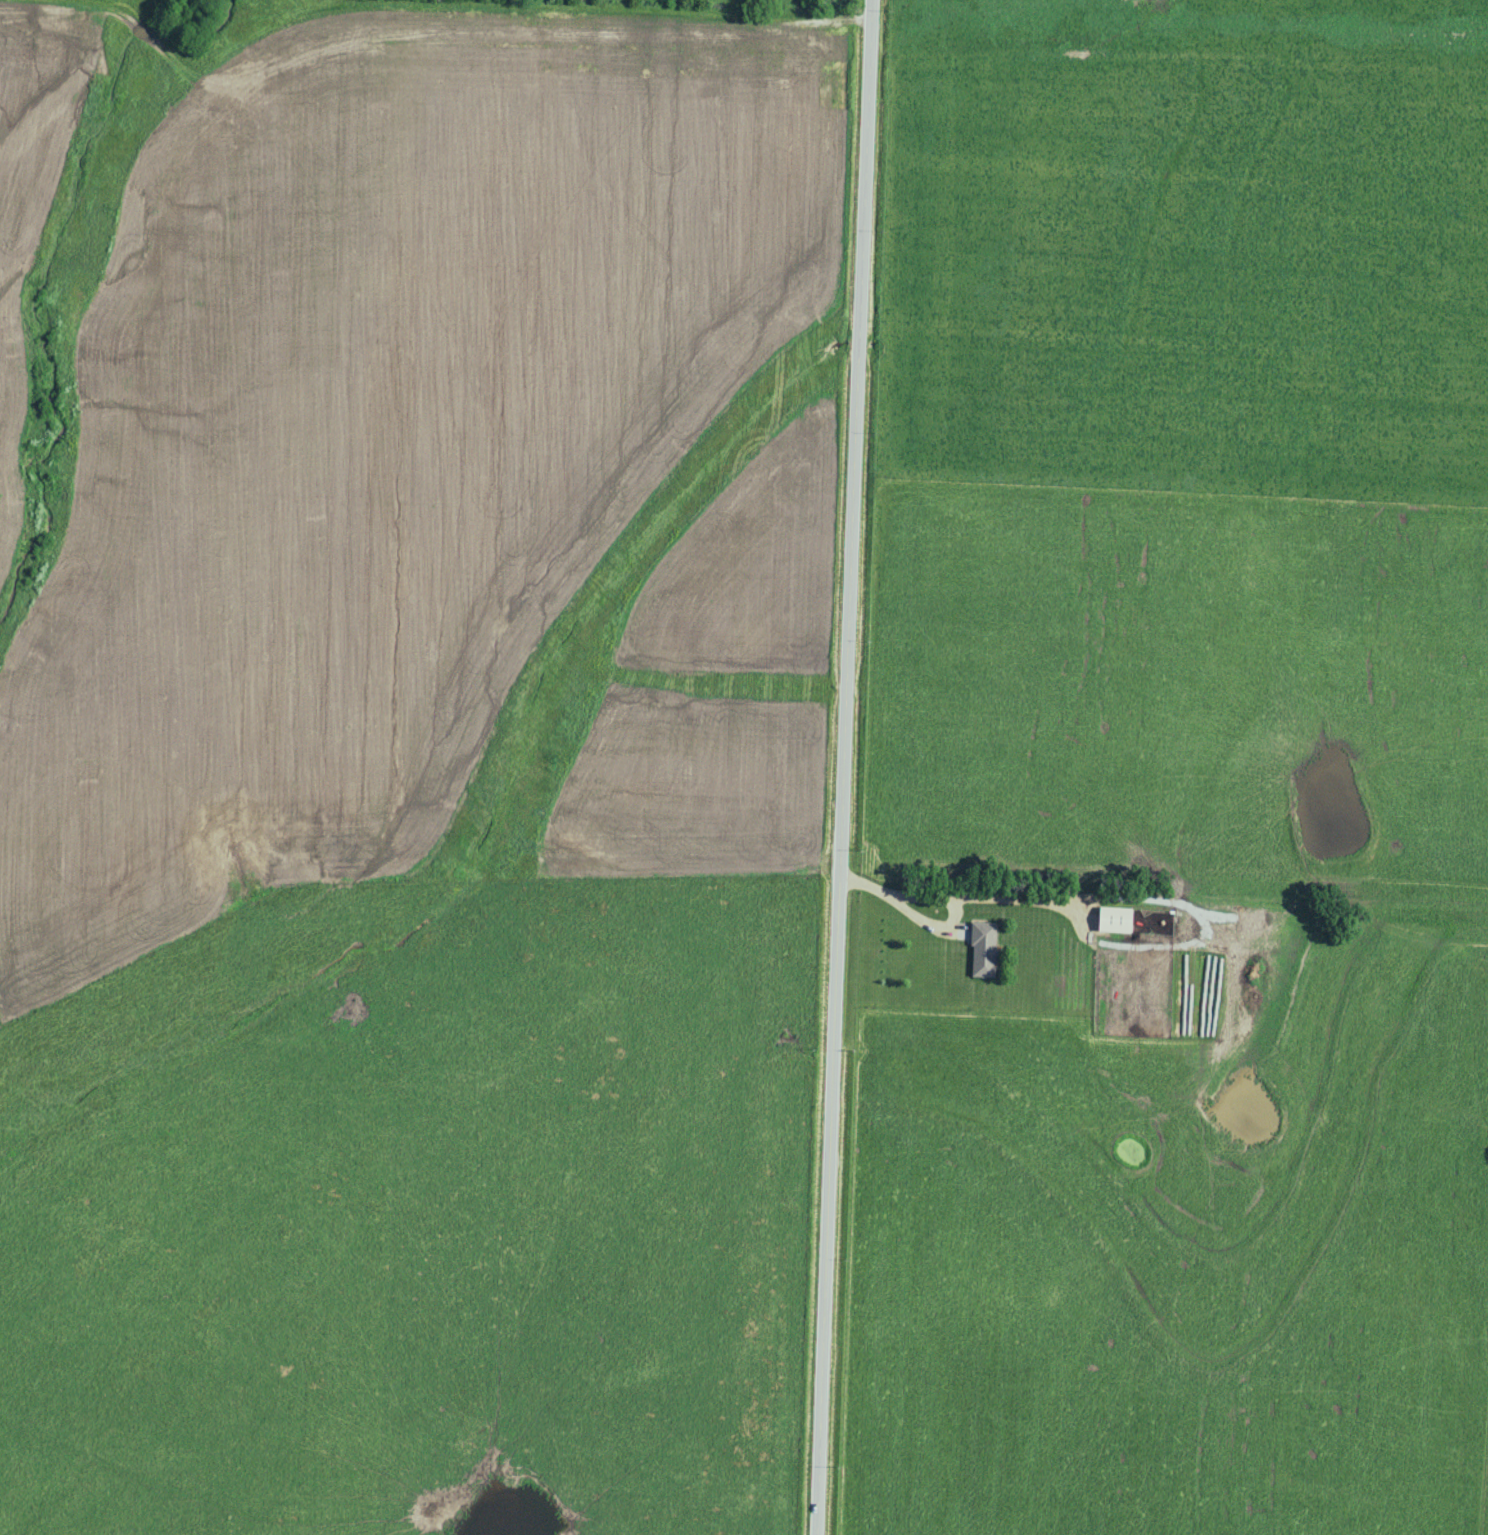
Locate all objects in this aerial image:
road: (460, 8)
road: (845, 767)
road: (906, 907)
building: (1114, 917)
building: (982, 947)

